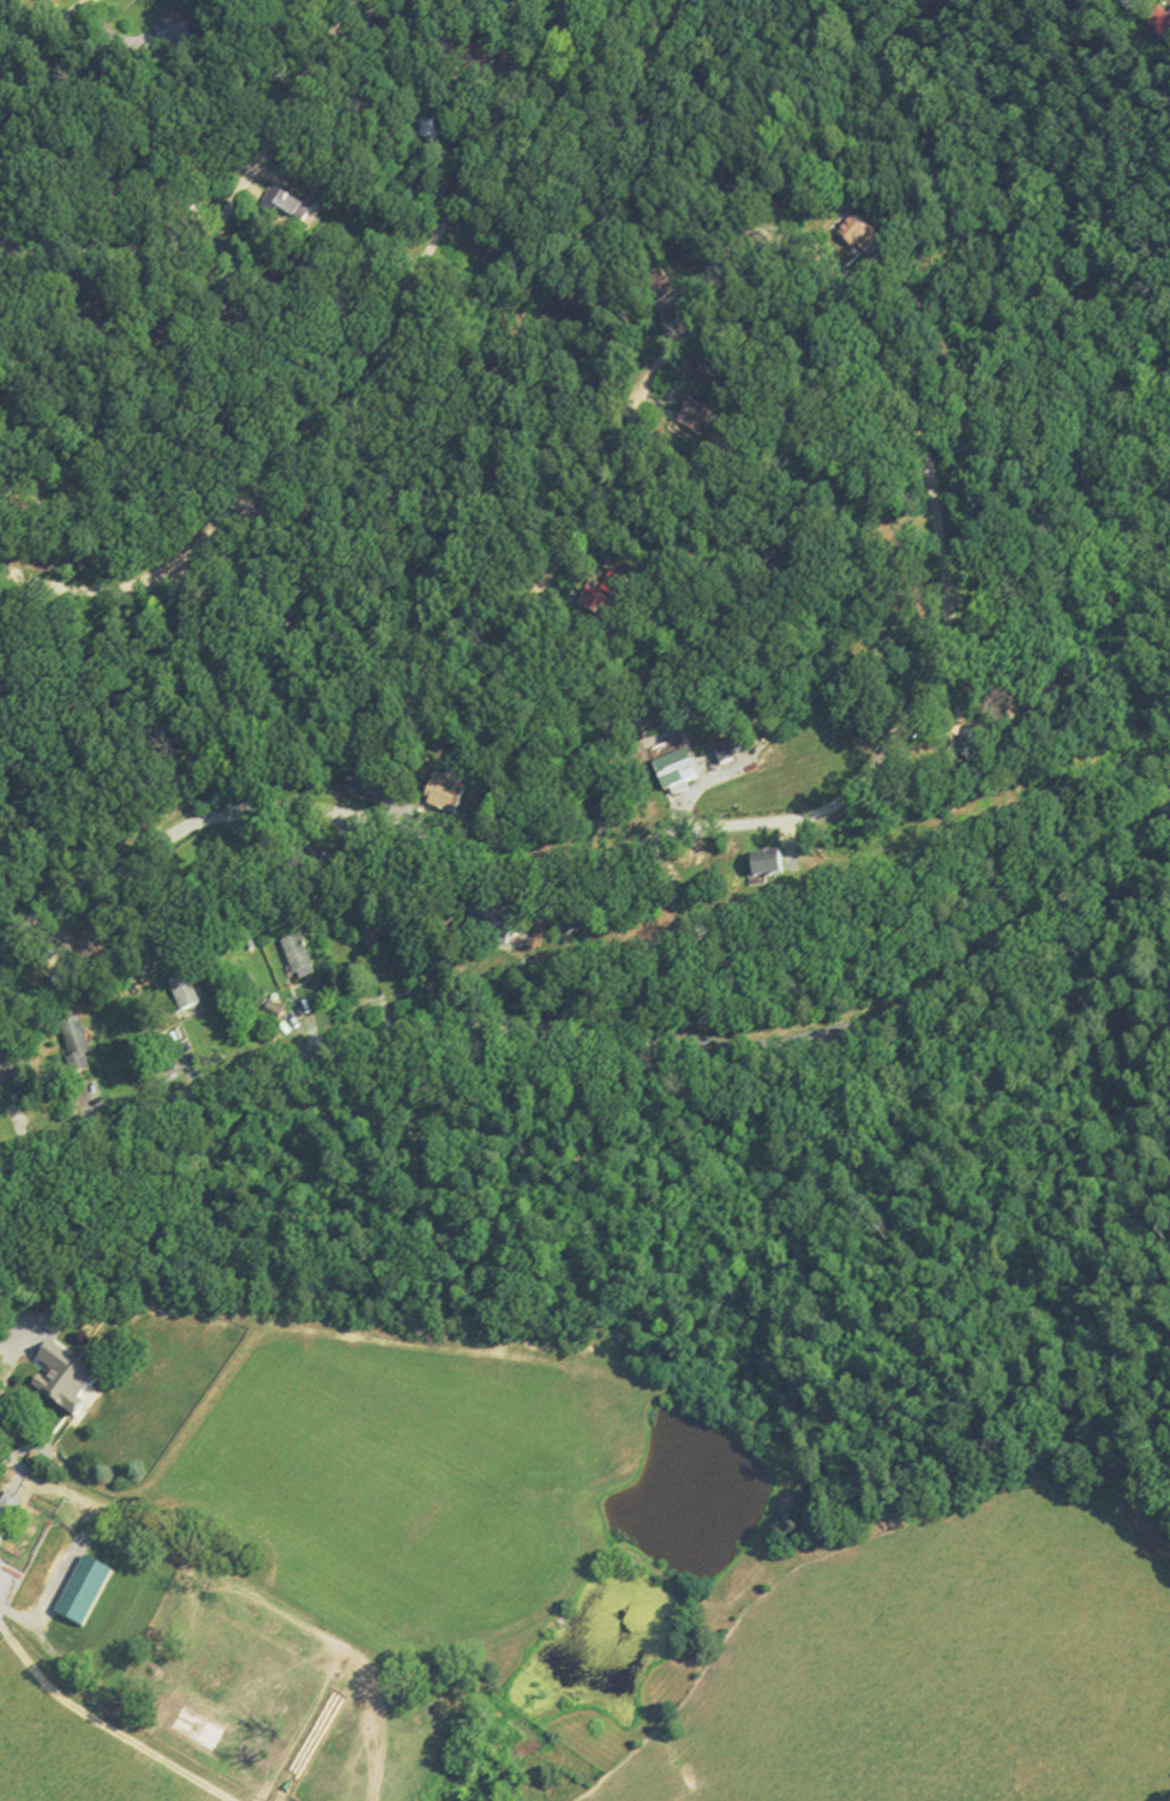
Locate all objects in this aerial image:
building: (1127, 5)
building: (1160, 28)
building: (170, 29)
road: (28, 113)
building: (426, 130)
building: (284, 206)
road: (229, 208)
building: (851, 235)
road: (364, 394)
building: (688, 425)
road: (938, 538)
building: (600, 599)
building: (678, 778)
building: (763, 868)
building: (293, 956)
building: (184, 1002)
road: (606, 1039)
building: (71, 1047)
building: (44, 1332)
road: (4, 1356)
building: (60, 1388)
road: (137, 1535)
road: (2, 1617)
road: (872, 1638)
road: (77, 1701)

